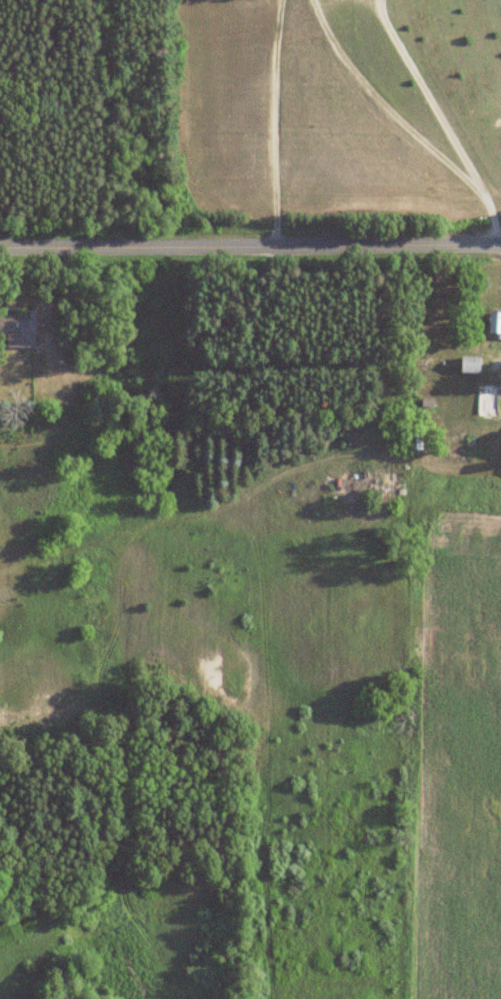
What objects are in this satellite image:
road: (426, 94)
road: (275, 123)
road: (402, 128)
road: (250, 248)
building: (495, 321)
building: (18, 328)
building: (470, 363)
building: (487, 399)

